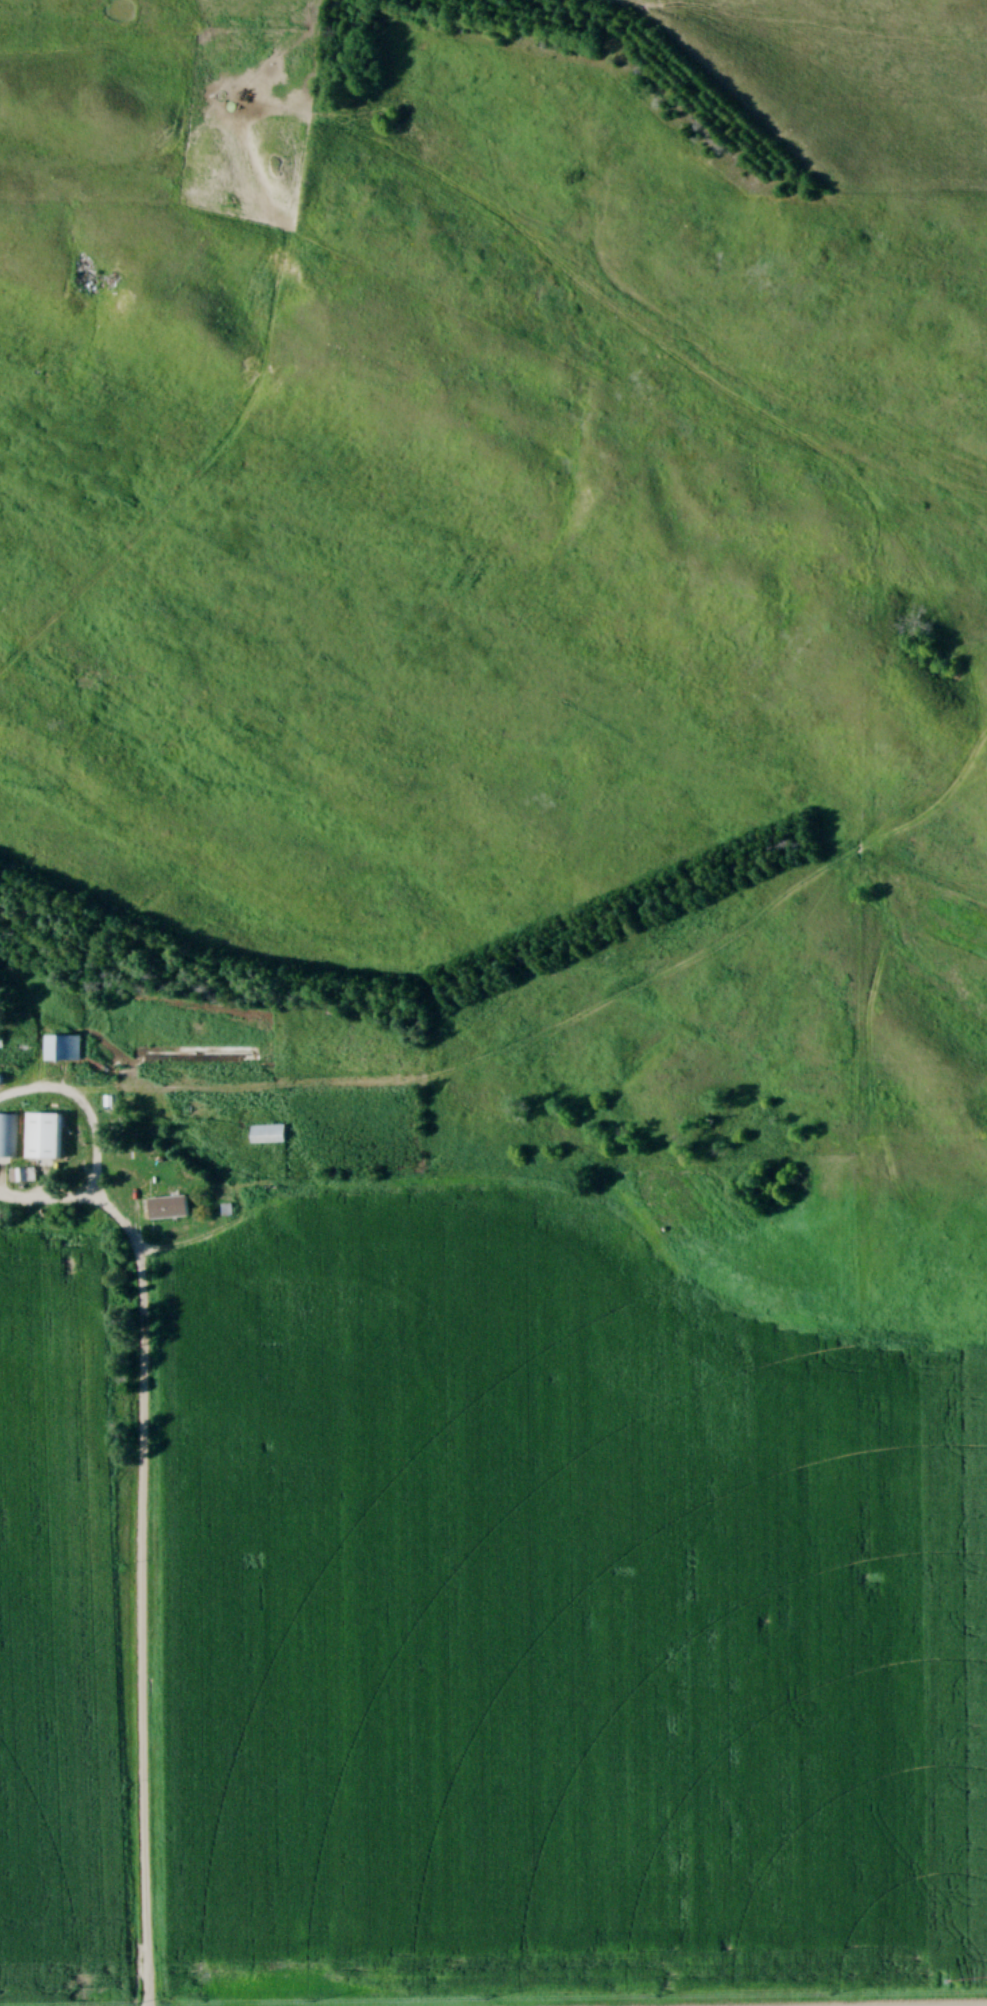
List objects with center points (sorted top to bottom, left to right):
building: (64, 1051)
building: (270, 1137)
building: (8, 1138)
building: (46, 1138)
building: (171, 1210)
road: (144, 1588)

